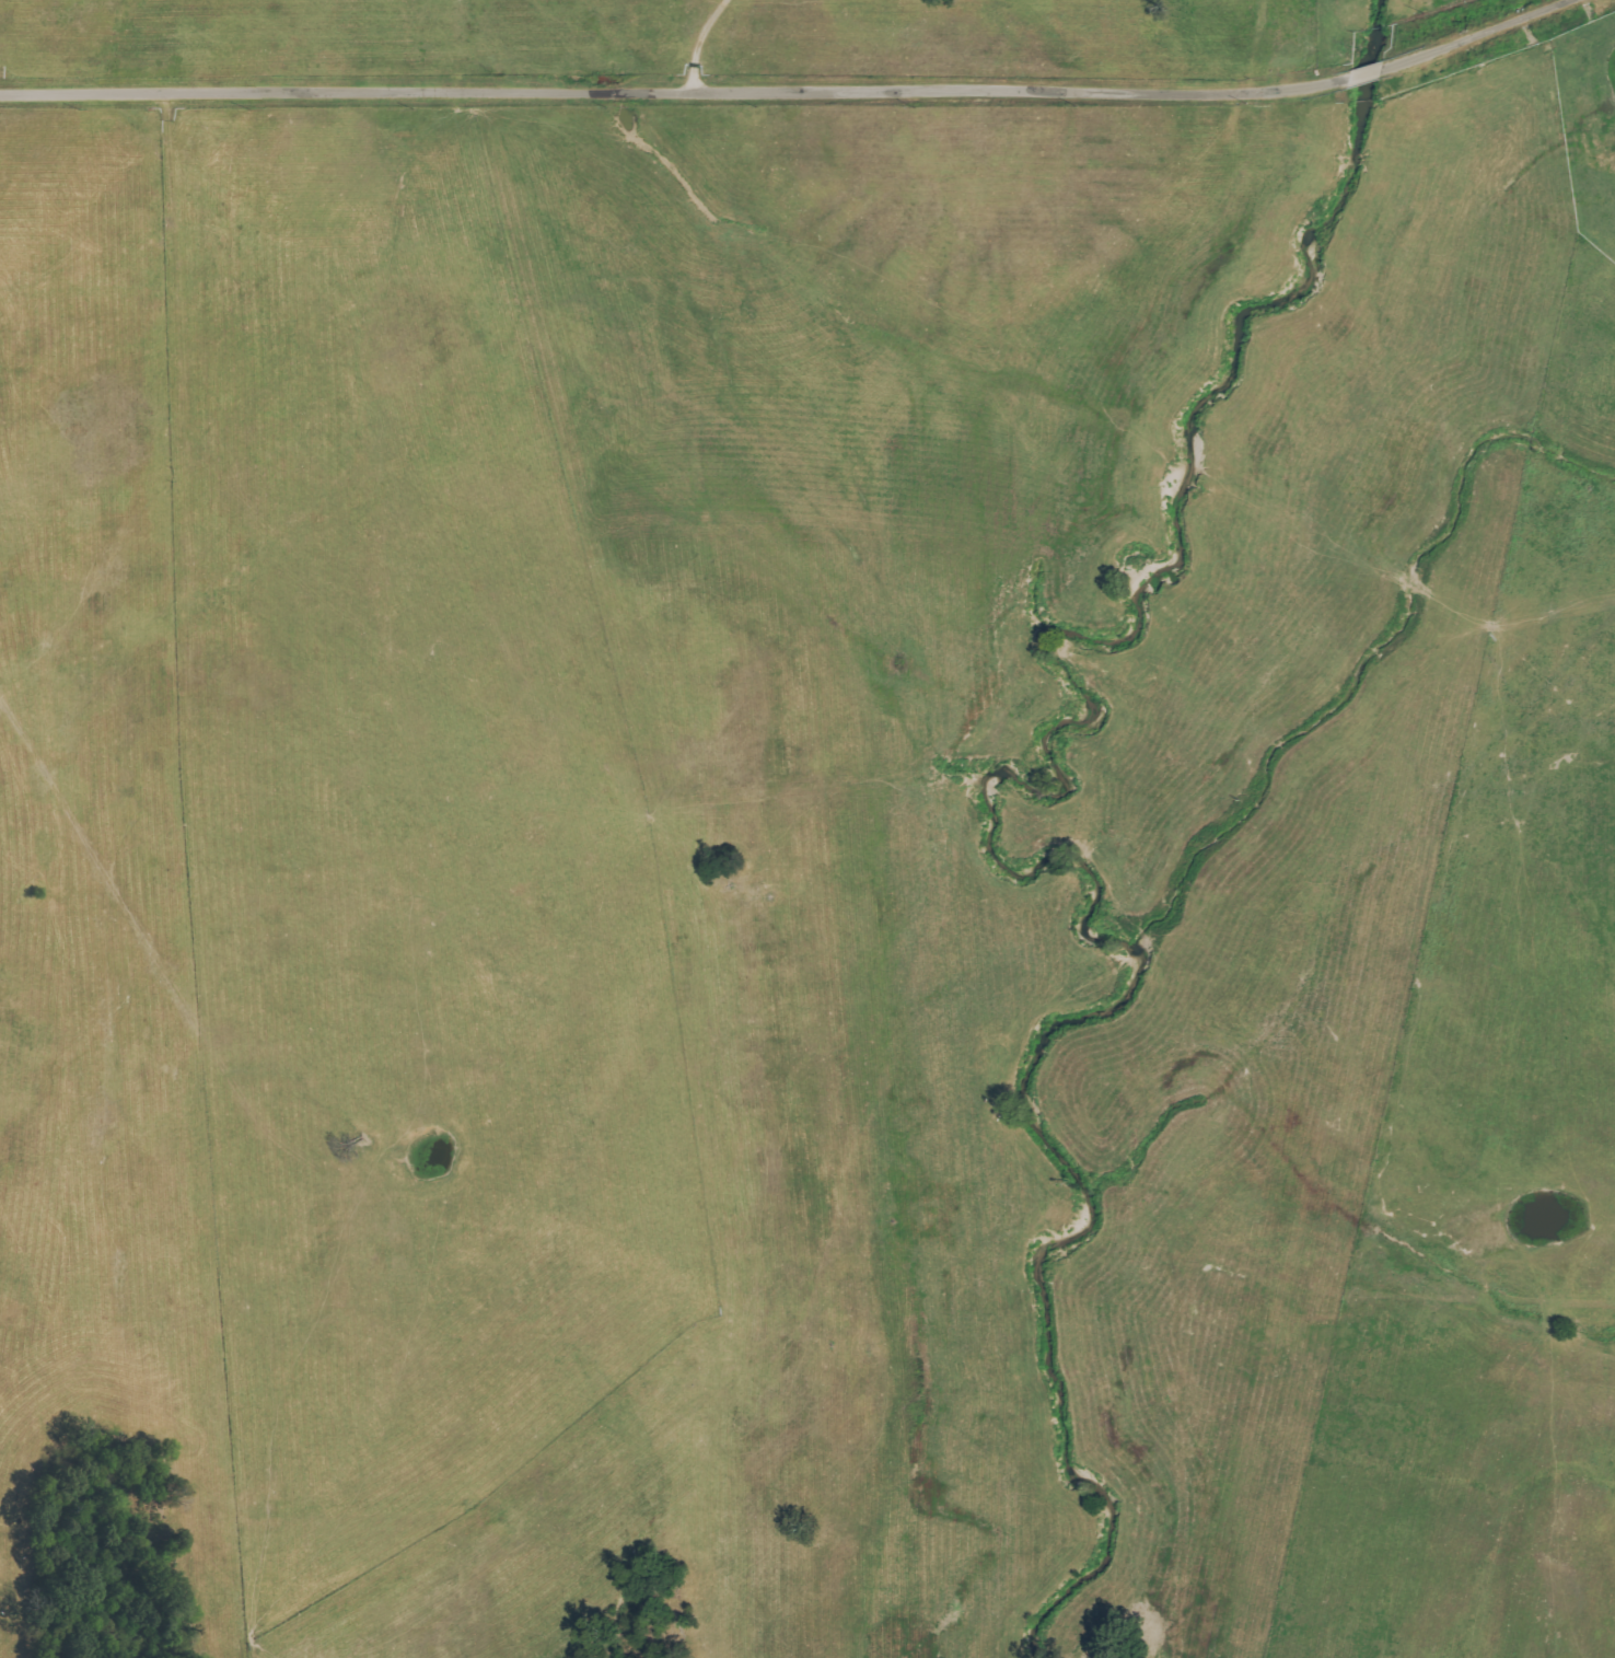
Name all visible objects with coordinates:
road: (1479, 35)
road: (1364, 76)
road: (674, 93)

